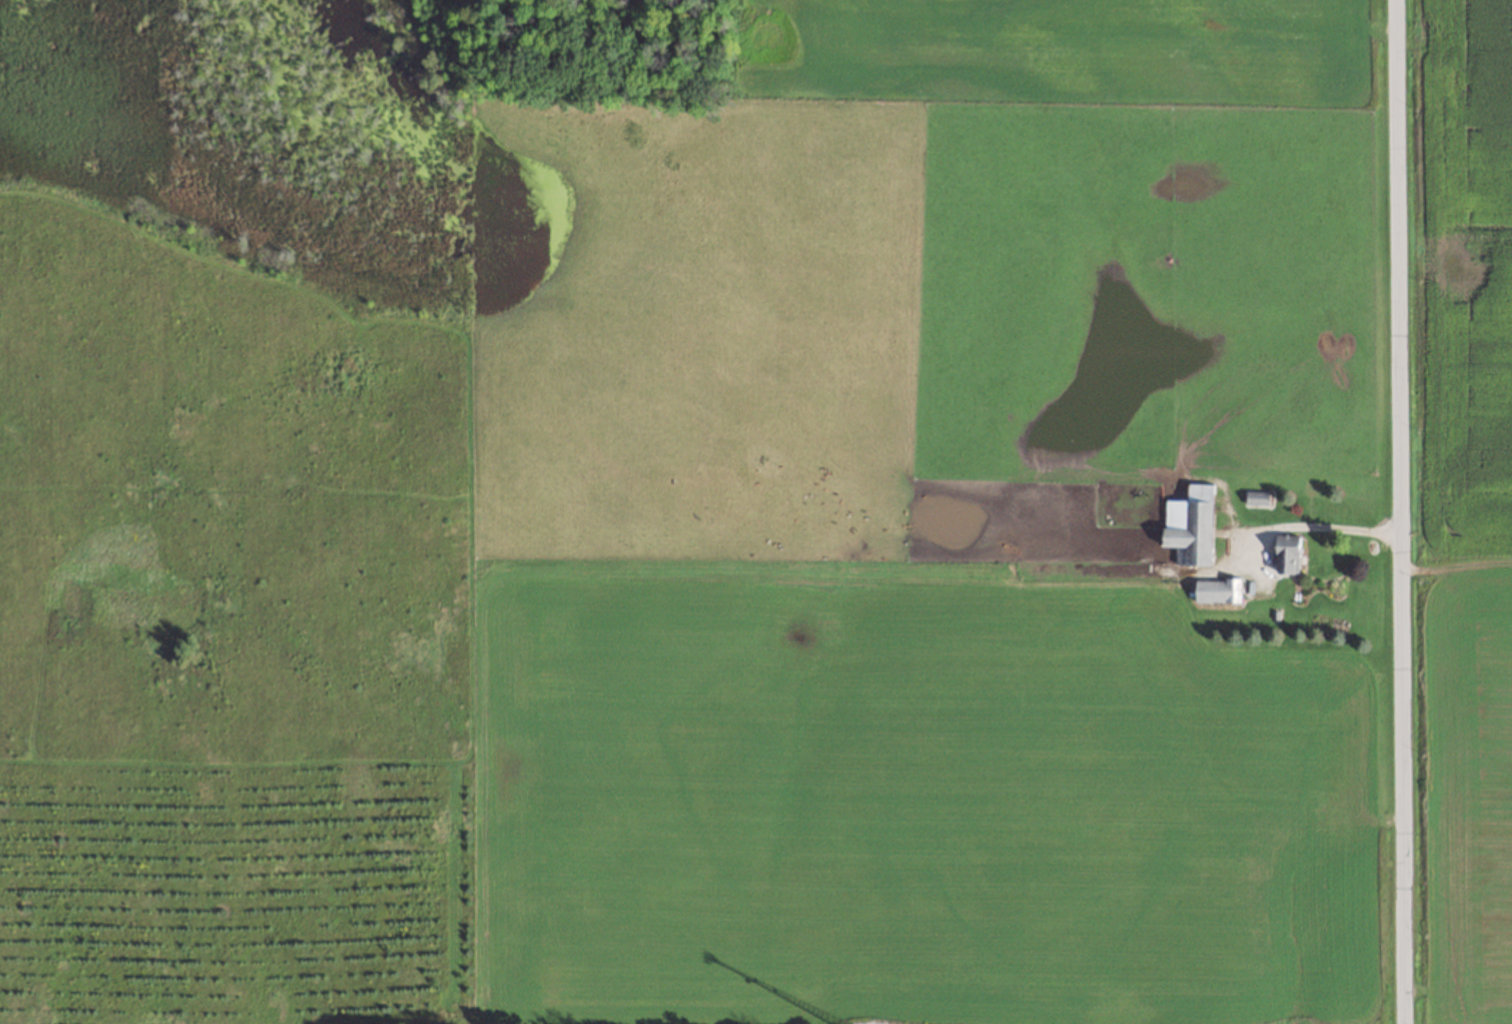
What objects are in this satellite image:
building: (1258, 497)
crop: (1470, 503)
road: (1400, 512)
building: (1190, 524)
road: (1313, 533)
building: (1288, 553)
building: (1218, 589)

